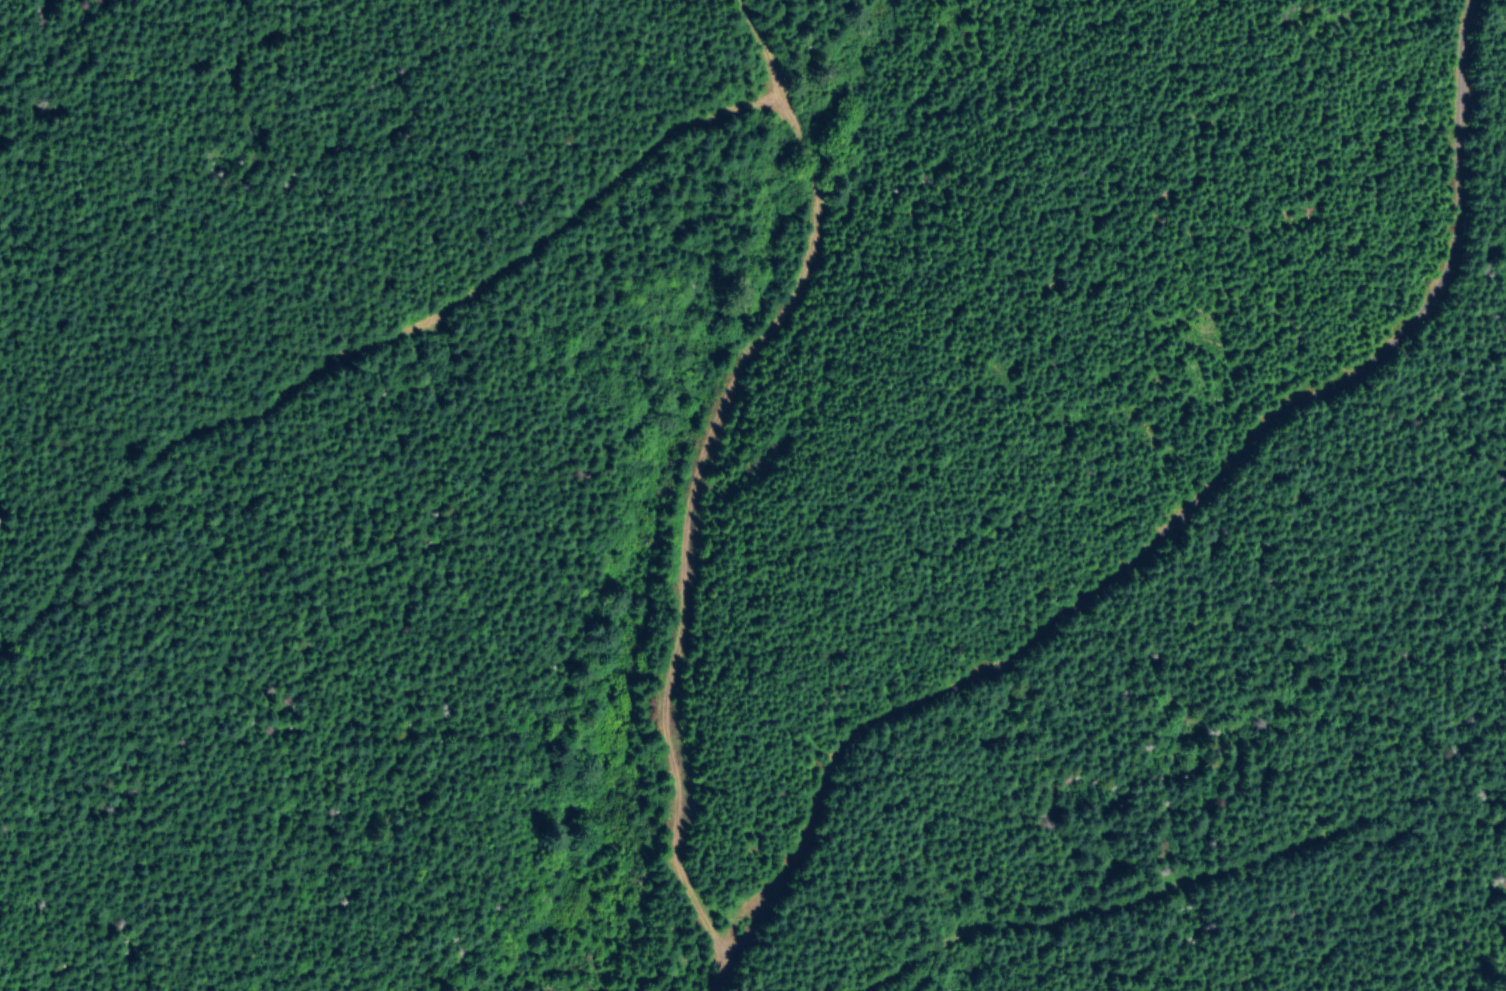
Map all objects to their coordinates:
road: (743, 57)
road: (739, 116)
road: (1137, 525)

